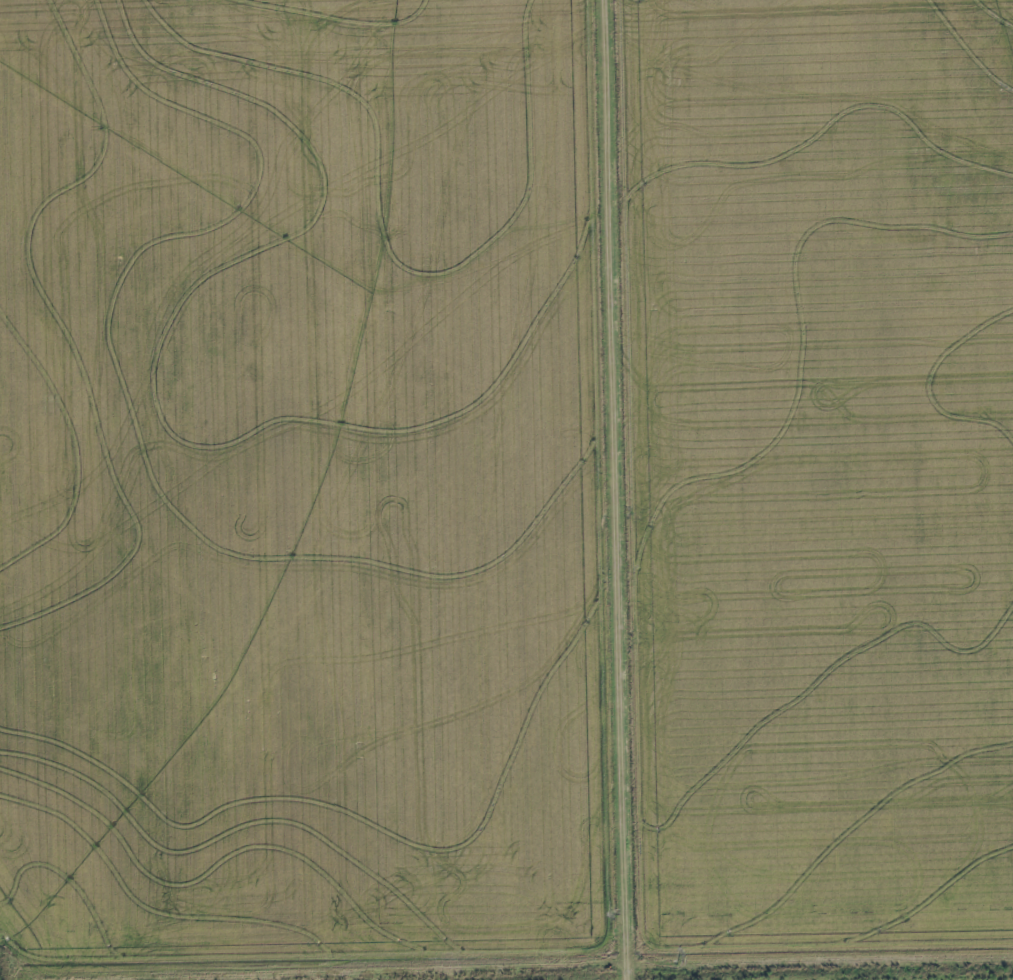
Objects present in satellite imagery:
road: (635, 490)

